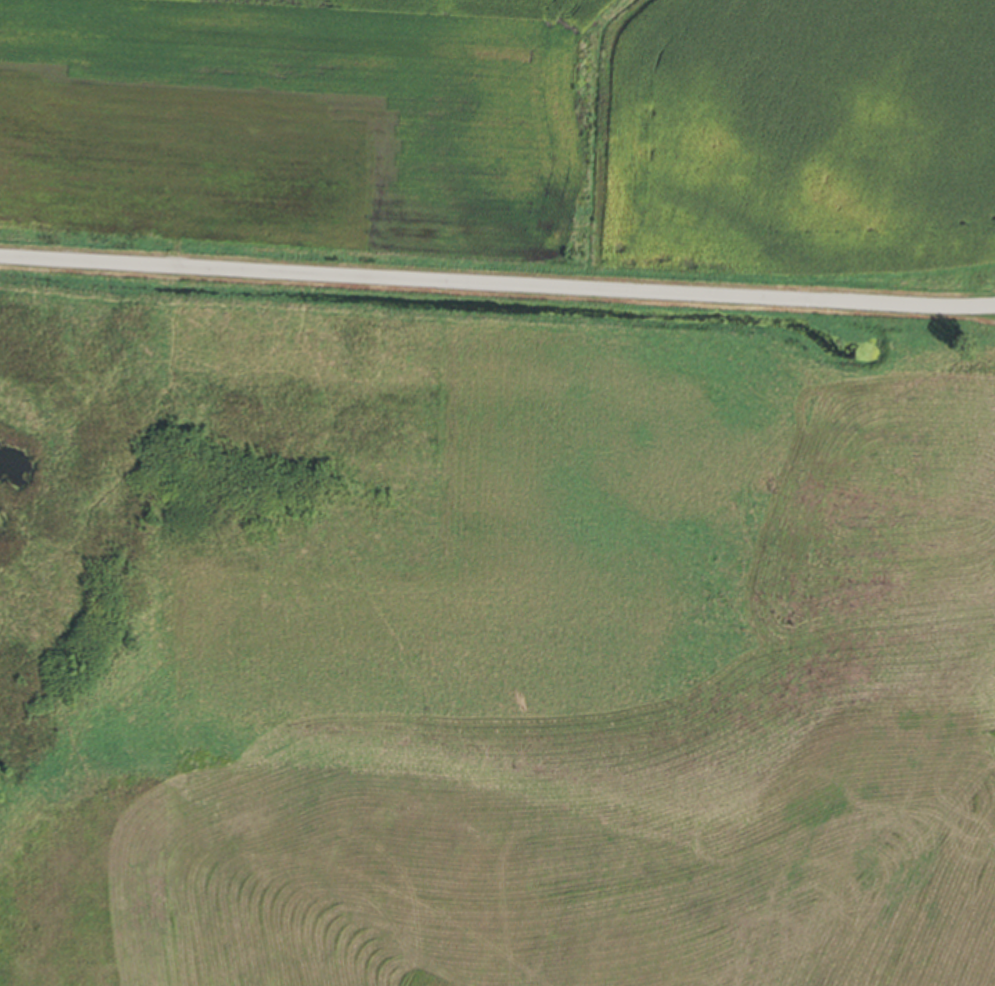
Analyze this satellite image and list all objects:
road: (497, 282)

